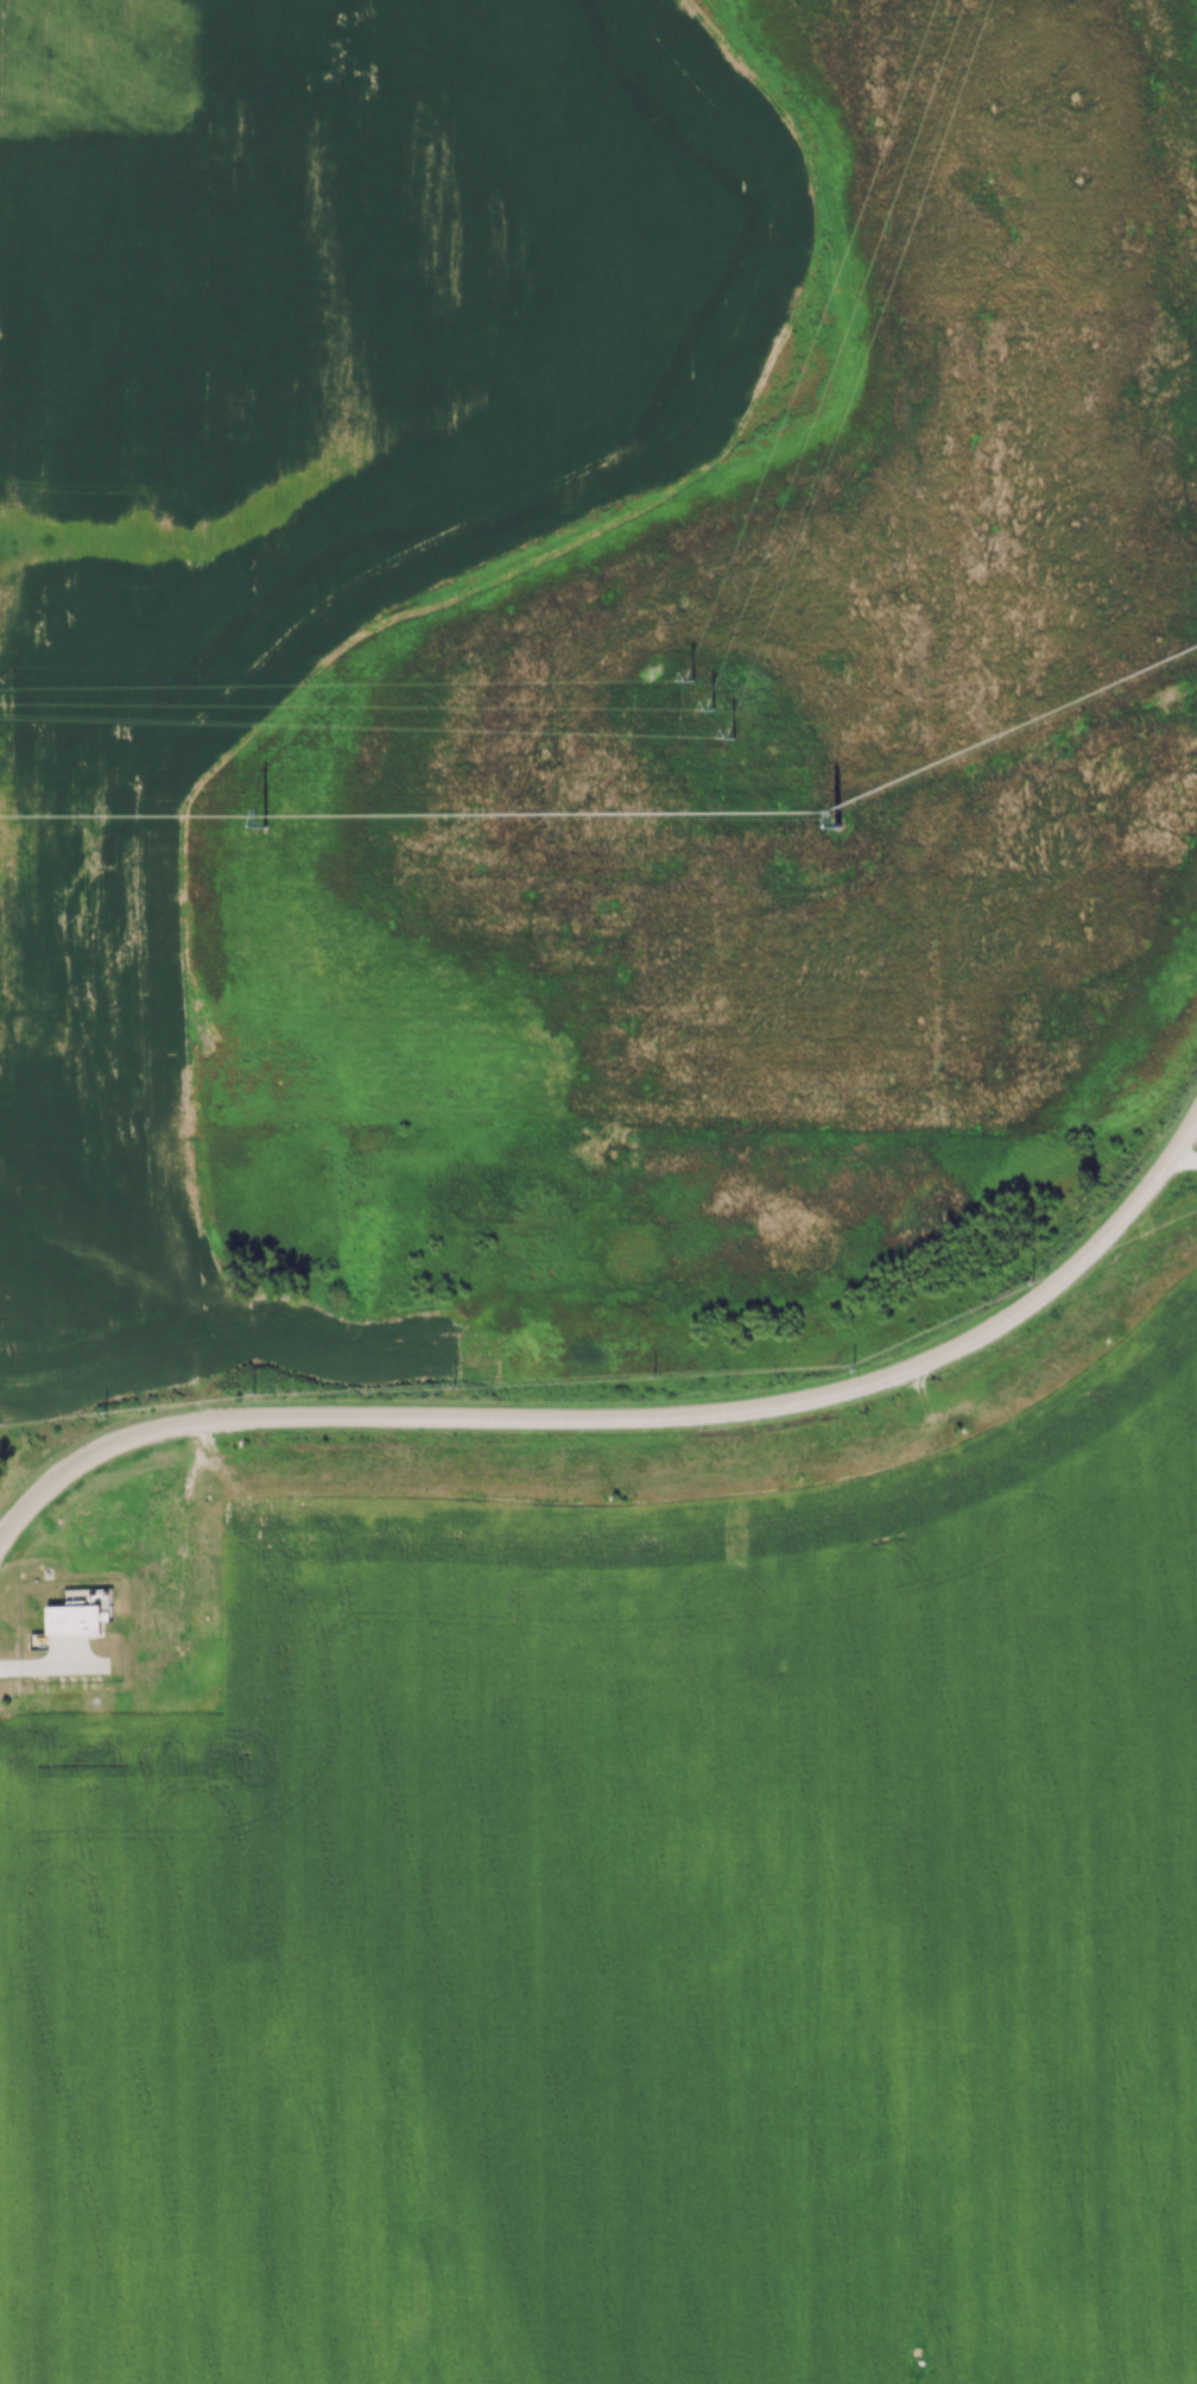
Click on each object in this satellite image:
power tower: (715, 707)
power tower: (266, 825)
power tower: (834, 825)
road: (1185, 1162)
road: (632, 1417)
road: (43, 1666)

